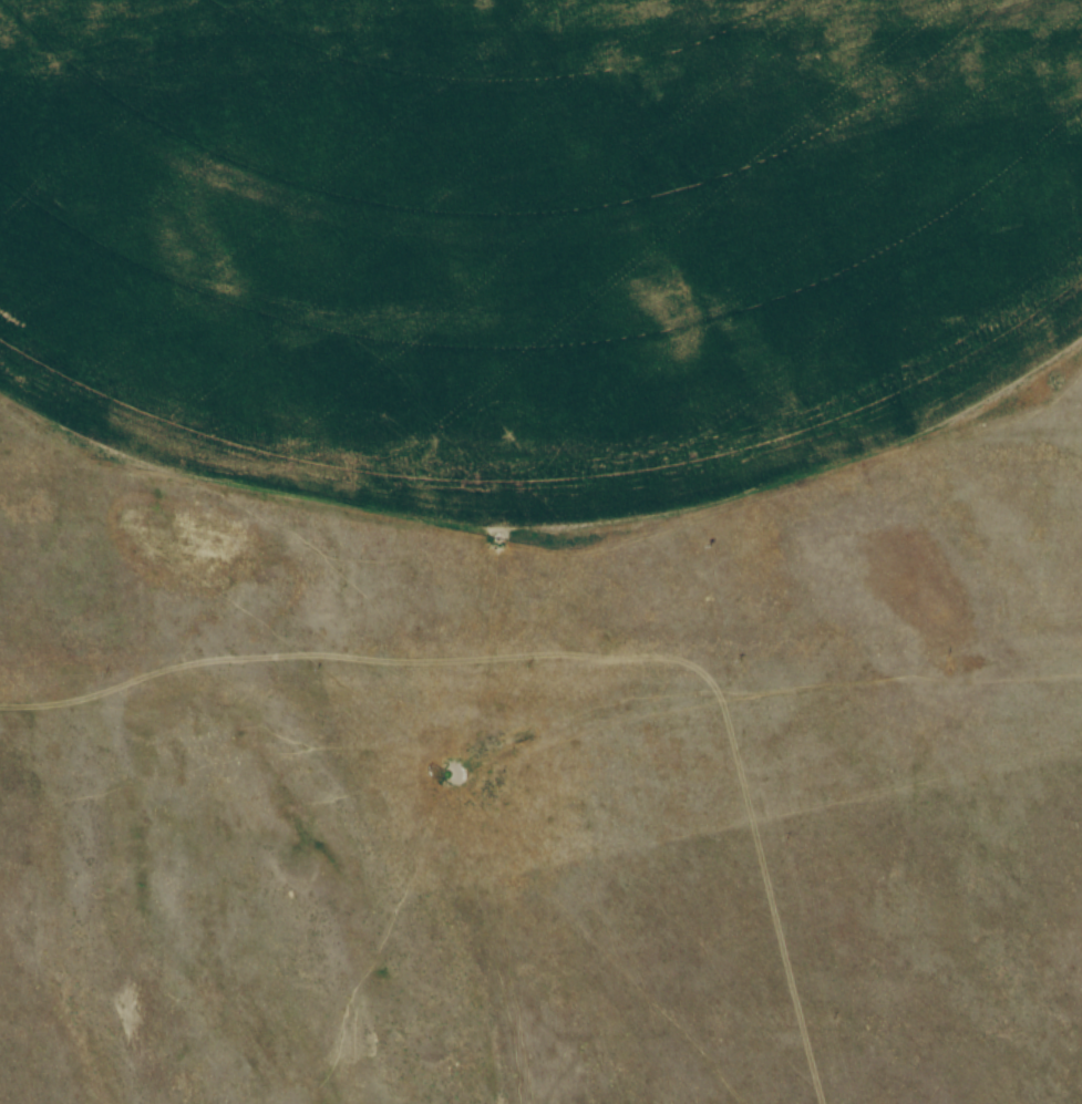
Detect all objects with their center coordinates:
crop: (529, 238)

